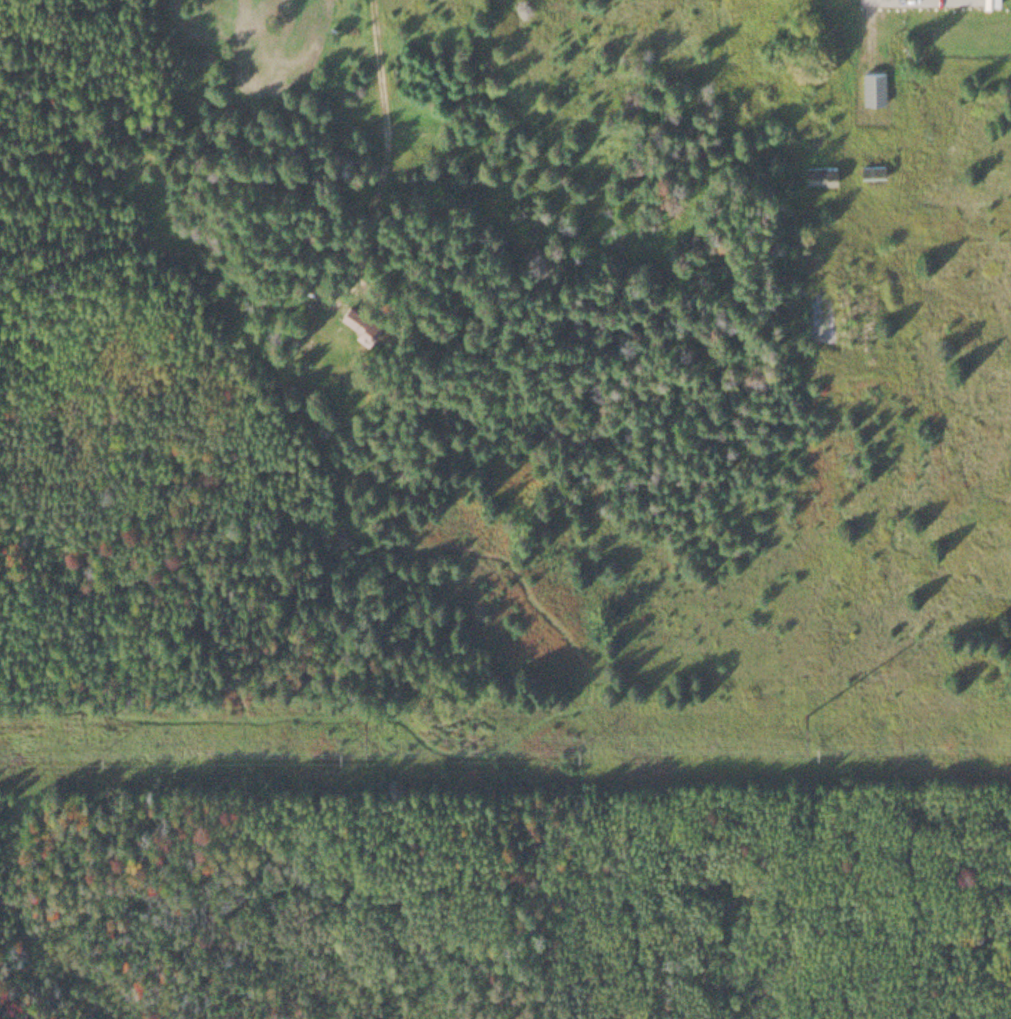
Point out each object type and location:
building: (872, 84)
road: (383, 163)
building: (870, 168)
building: (819, 171)
building: (357, 317)
power tower: (794, 704)
power tower: (353, 711)

